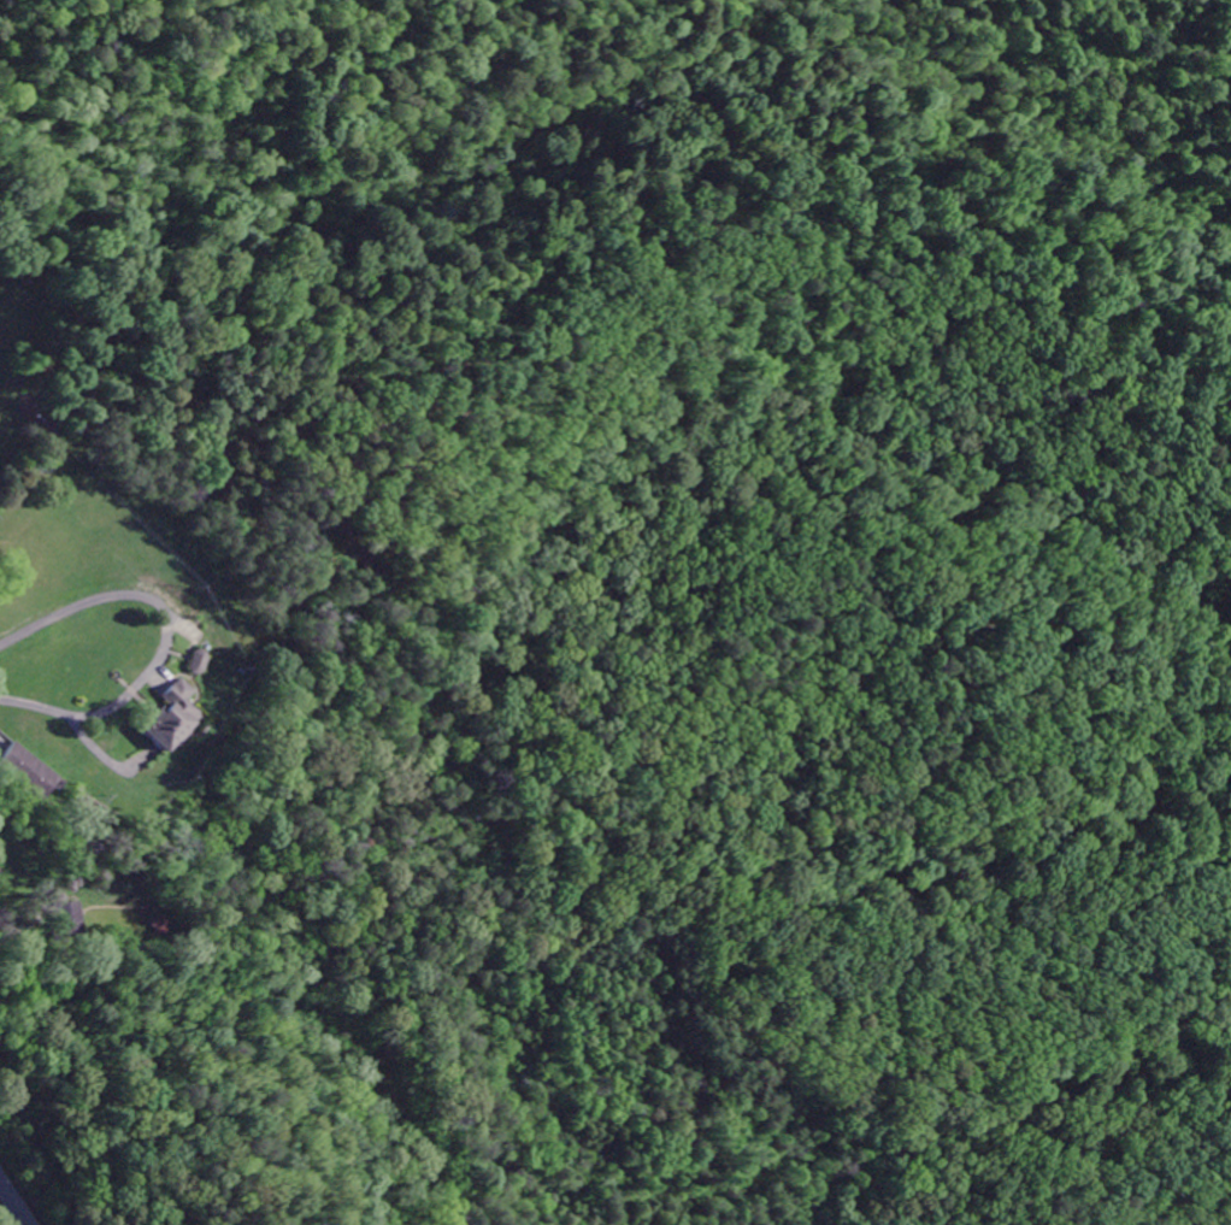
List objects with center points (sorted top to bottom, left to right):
road: (591, 98)
building: (196, 664)
building: (170, 719)
building: (29, 773)
road: (12, 1205)

